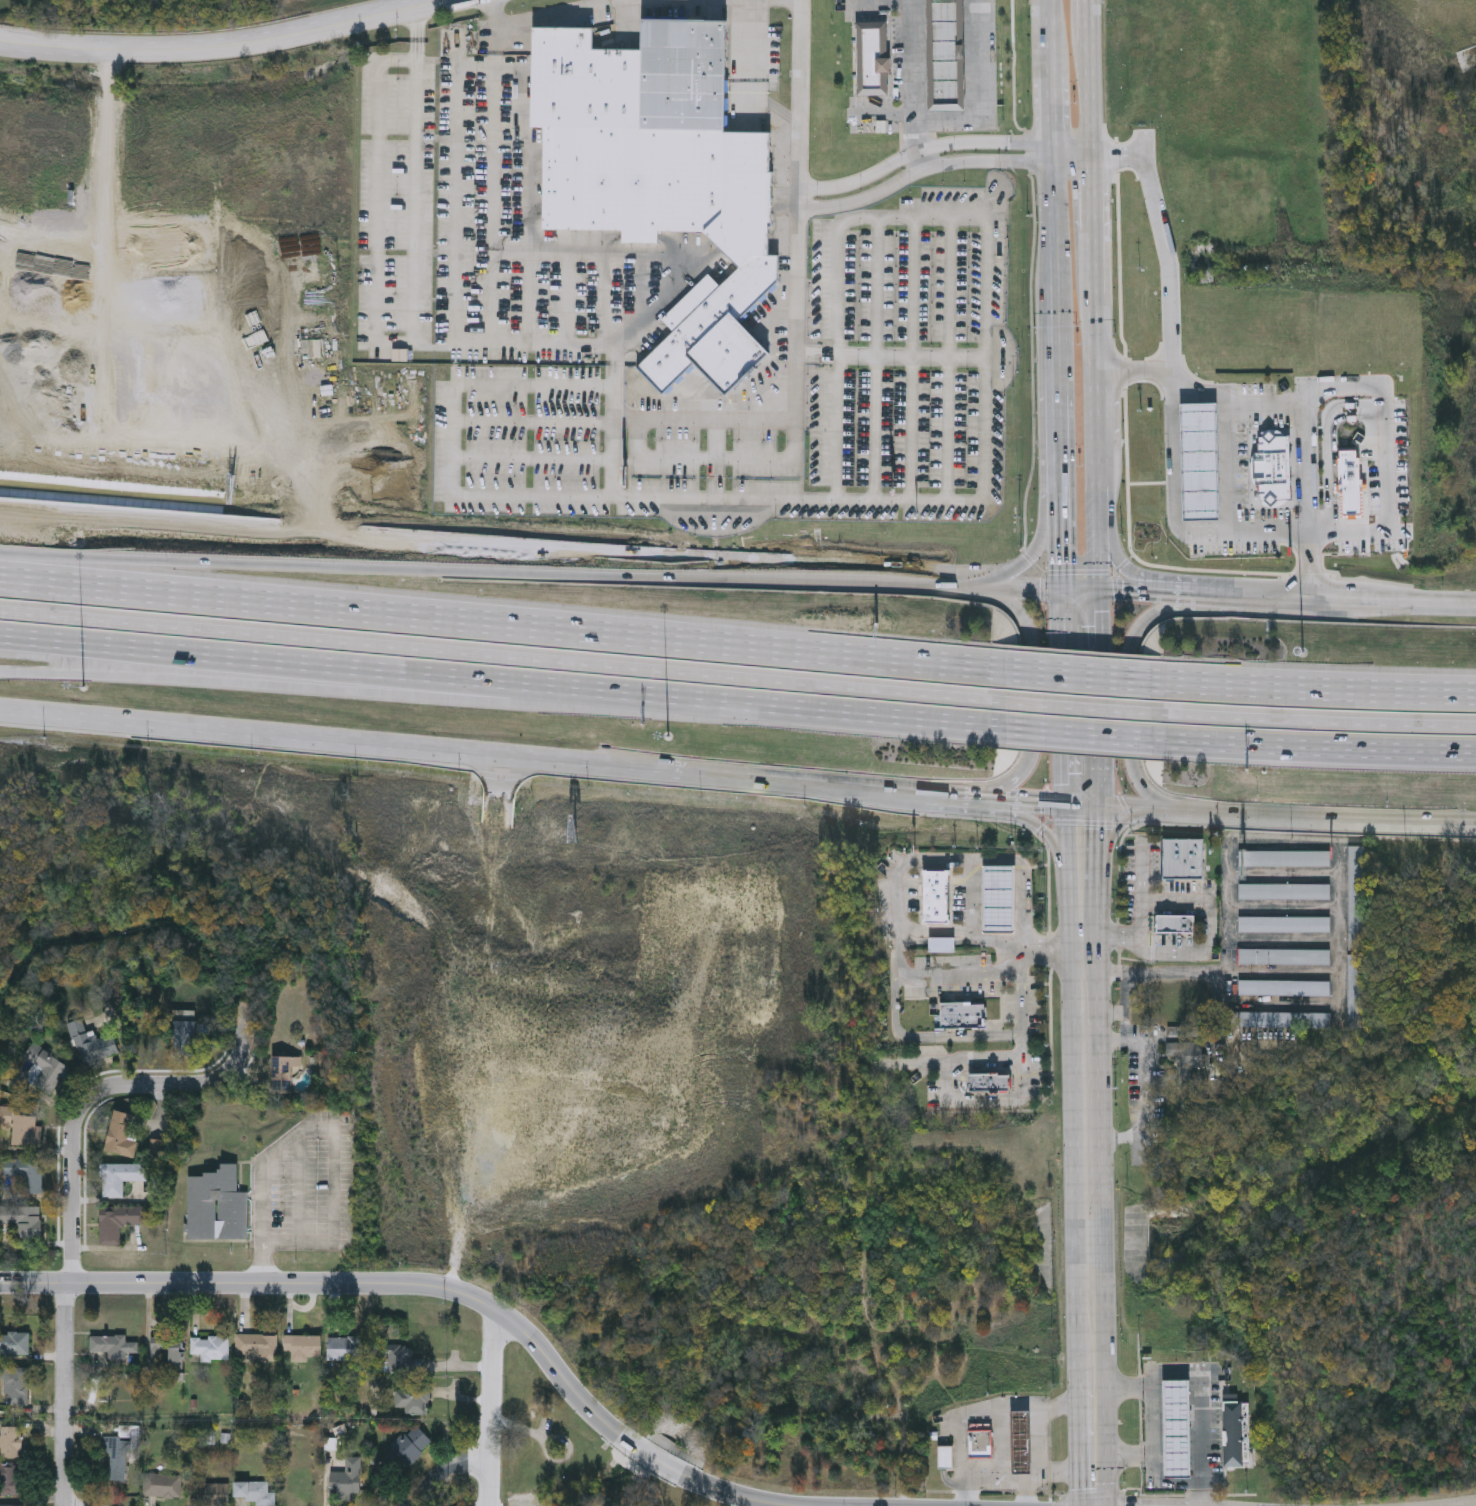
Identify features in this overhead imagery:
road: (751, 1)
road: (689, 2)
road: (778, 2)
road: (882, 4)
road: (418, 5)
road: (496, 14)
road: (564, 15)
road: (1084, 21)
road: (418, 22)
road: (1053, 36)
road: (497, 46)
road: (419, 50)
road: (233, 52)
building: (948, 55)
road: (419, 56)
gas station: (949, 56)
building: (873, 59)
road: (458, 63)
road: (805, 65)
road: (913, 77)
road: (751, 81)
road: (977, 89)
road: (1085, 97)
road: (1053, 111)
road: (887, 115)
road: (925, 151)
road: (1069, 152)
road: (1116, 153)
road: (922, 160)
road: (923, 166)
building: (1240, 169)
building: (662, 174)
road: (1086, 194)
road: (379, 204)
road: (461, 206)
road: (494, 206)
building: (1216, 210)
road: (1054, 239)
road: (535, 248)
road: (951, 287)
road: (642, 288)
road: (914, 288)
road: (877, 290)
road: (607, 301)
road: (569, 302)
road: (533, 350)
road: (798, 353)
road: (1057, 355)
road: (813, 356)
road: (805, 357)
road: (913, 358)
road: (1133, 374)
road: (1298, 398)
road: (1093, 415)
road: (536, 421)
road: (837, 429)
road: (875, 430)
road: (913, 430)
road: (949, 430)
road: (455, 440)
road: (1059, 441)
road: (535, 458)
road: (1388, 458)
road: (717, 460)
building: (1201, 462)
gas station: (1201, 462)
building: (1270, 467)
road: (989, 480)
building: (1350, 480)
road: (1177, 481)
road: (171, 527)
road: (1061, 547)
road: (1116, 556)
road: (1032, 560)
road: (619, 562)
road: (1311, 566)
road: (362, 578)
road: (989, 588)
traffic signals: (1082, 592)
road: (1118, 592)
road: (1172, 594)
road: (1251, 598)
road: (1393, 601)
road: (1011, 609)
road: (1150, 616)
road: (494, 622)
road: (1082, 623)
building: (164, 633)
road: (495, 656)
road: (1064, 676)
building: (641, 677)
road: (494, 682)
road: (300, 690)
road: (1307, 692)
road: (1030, 704)
road: (1065, 707)
road: (1081, 708)
road: (1130, 710)
road: (1307, 722)
road: (1065, 733)
road: (1308, 747)
road: (461, 758)
road: (1080, 784)
road: (1142, 787)
road: (1001, 788)
road: (943, 795)
road: (970, 797)
road: (1029, 802)
traffic signals: (1080, 806)
road: (1277, 814)
road: (1037, 827)
road: (1113, 835)
road: (1080, 842)
building: (1184, 859)
road: (970, 861)
building: (1285, 861)
road: (1143, 893)
building: (1285, 894)
building: (936, 897)
building: (998, 899)
gas station: (998, 899)
building: (1358, 900)
road: (1082, 901)
road: (1199, 903)
building: (1177, 924)
building: (1286, 926)
road: (965, 934)
road: (1083, 934)
road: (1340, 936)
road: (1120, 943)
building: (942, 945)
road: (1055, 946)
road: (1178, 951)
road: (901, 953)
road: (1084, 958)
building: (1285, 958)
road: (1212, 972)
road: (960, 975)
parking lot: (952, 978)
building: (1285, 989)
building: (1357, 992)
road: (1085, 995)
road: (1289, 1004)
road: (1125, 1010)
building: (962, 1016)
building: (1286, 1023)
building: (184, 1032)
road: (932, 1039)
building: (89, 1044)
building: (1191, 1058)
road: (953, 1062)
building: (46, 1073)
building: (283, 1073)
road: (1023, 1079)
building: (990, 1082)
road: (1148, 1087)
road: (1088, 1106)
road: (322, 1126)
building: (22, 1129)
building: (121, 1133)
building: (25, 1173)
building: (120, 1177)
road: (69, 1189)
building: (216, 1206)
building: (23, 1220)
building: (116, 1221)
road: (1090, 1241)
road: (420, 1286)
building: (14, 1344)
building: (257, 1344)
building: (114, 1346)
building: (210, 1347)
building: (300, 1347)
building: (344, 1347)
building: (168, 1352)
building: (17, 1385)
road: (1202, 1385)
road: (1094, 1396)
building: (412, 1398)
road: (490, 1406)
road: (984, 1410)
road: (524, 1431)
building: (1181, 1431)
gas station: (1181, 1431)
gas station: (1236, 1432)
building: (933, 1435)
building: (1020, 1439)
gas station: (1020, 1439)
building: (979, 1440)
road: (1042, 1440)
building: (11, 1441)
road: (1154, 1444)
building: (406, 1449)
park: (564, 1451)
building: (117, 1455)
building: (945, 1455)
road: (1050, 1473)
road: (432, 1475)
building: (347, 1477)
building: (10, 1479)
building: (162, 1484)
road: (1162, 1485)
road: (995, 1488)
building: (255, 1493)
building: (210, 1494)
building: (11, 1505)

